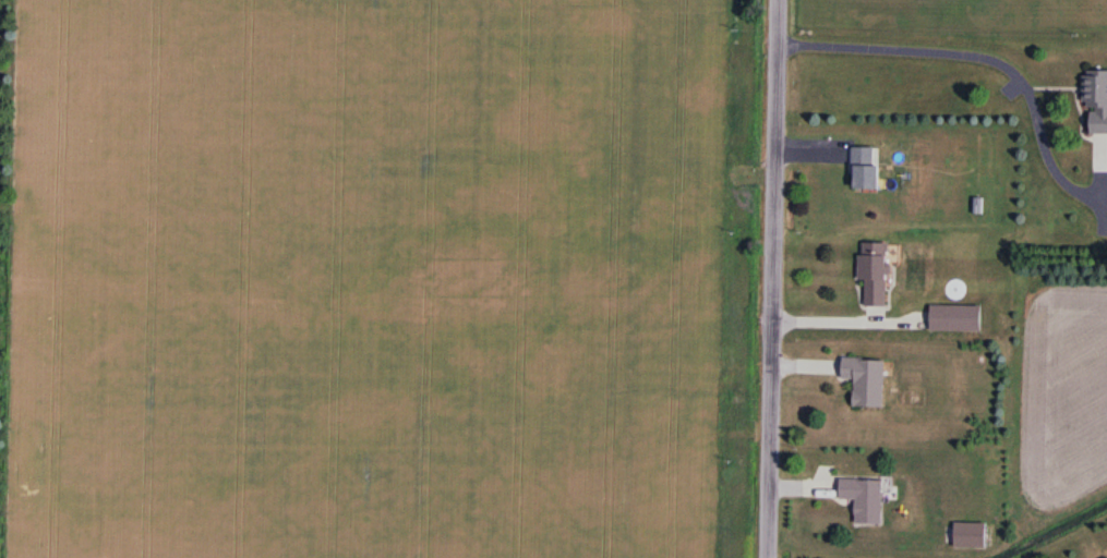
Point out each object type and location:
road: (970, 52)
building: (1096, 99)
building: (865, 169)
building: (875, 274)
road: (768, 279)
building: (948, 318)
building: (866, 380)
building: (865, 498)
building: (971, 535)

